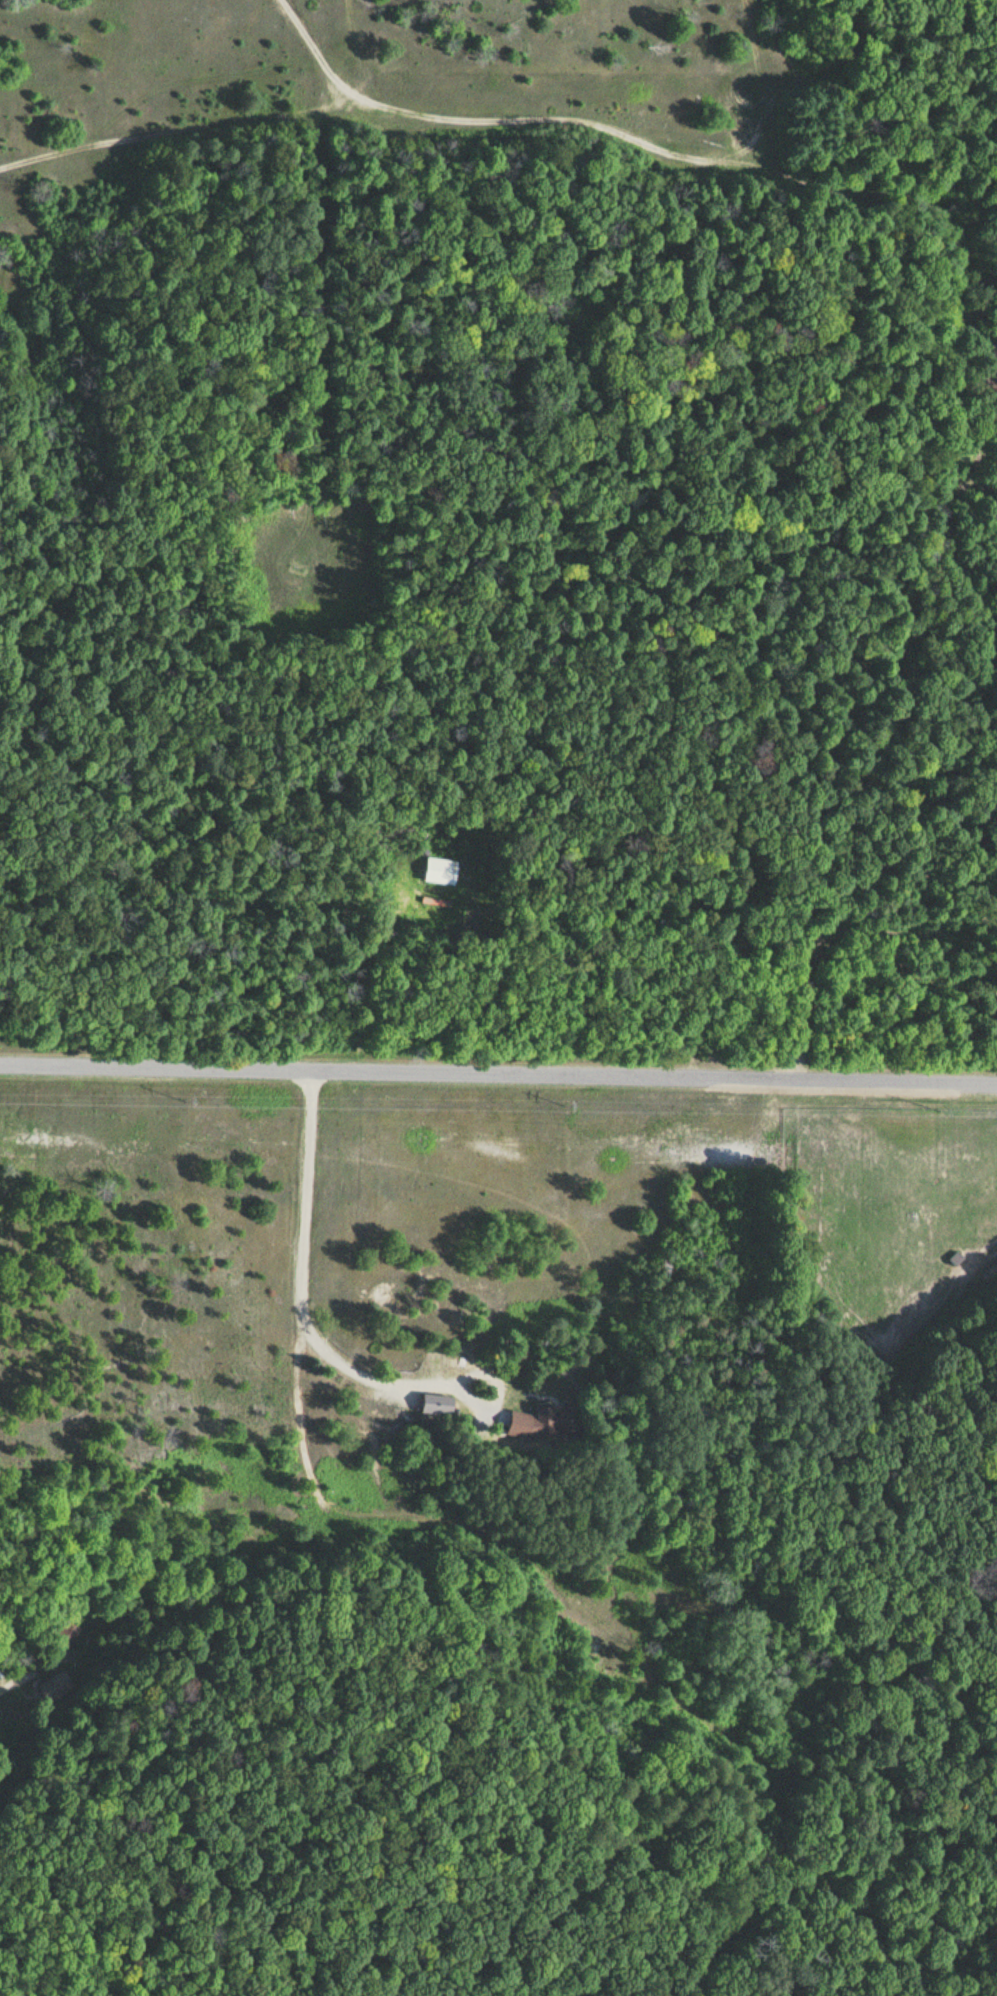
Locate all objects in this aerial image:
road: (781, 74)
building: (439, 870)
road: (903, 923)
road: (498, 1071)
road: (309, 1197)
road: (369, 1376)
road: (983, 1378)
building: (430, 1403)
building: (551, 1420)
road: (588, 1604)
building: (66, 1633)

